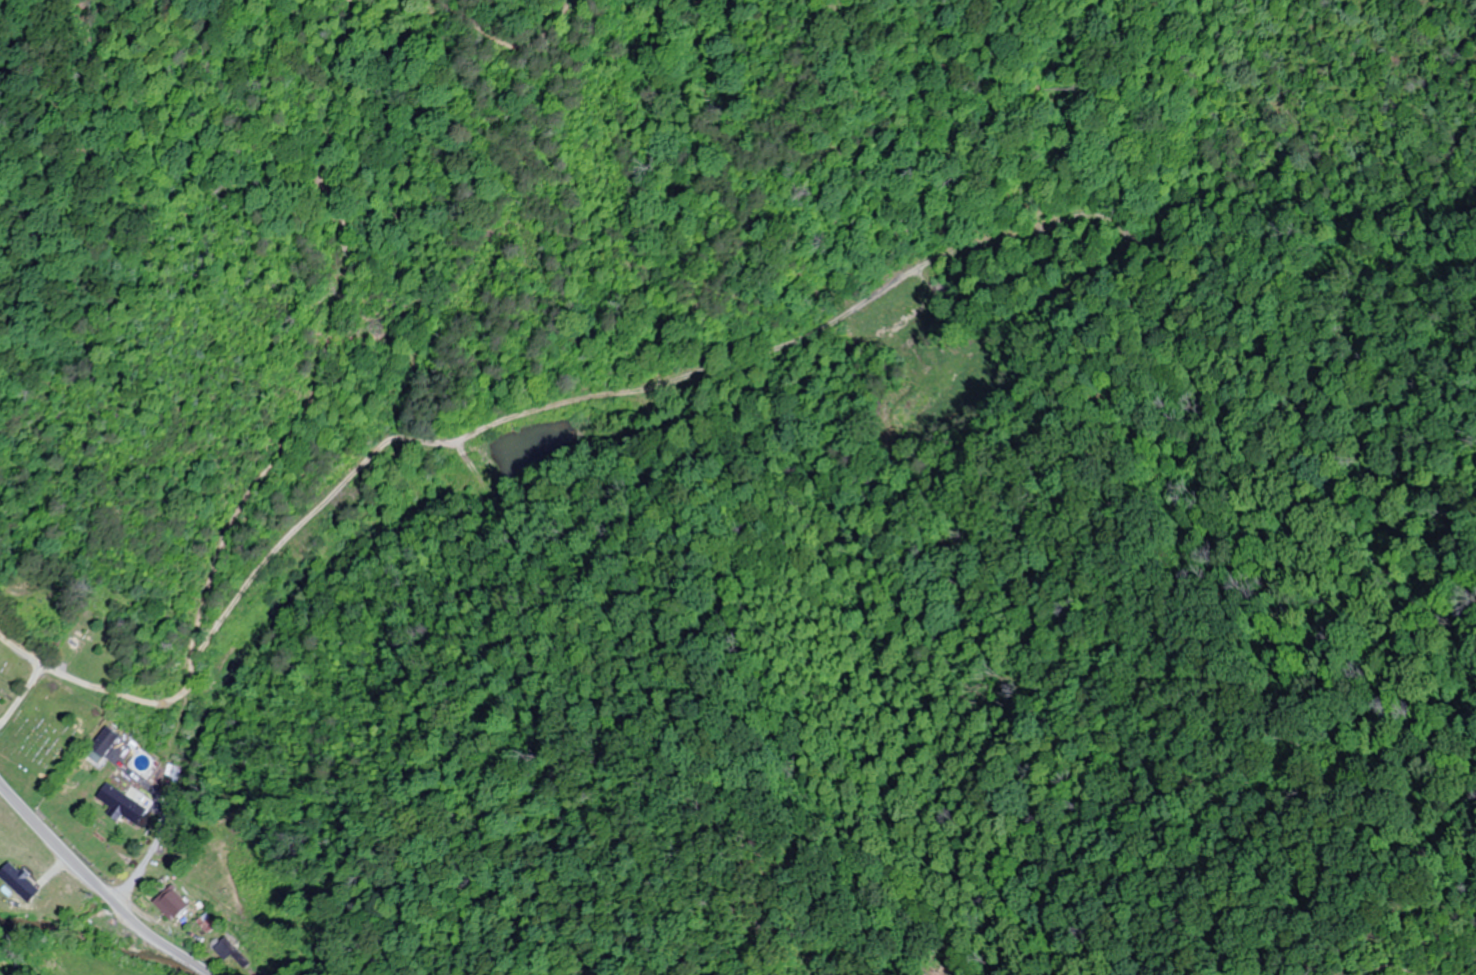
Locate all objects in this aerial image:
park: (99, 629)
park: (11, 673)
park: (50, 728)
building: (105, 740)
building: (125, 803)
building: (20, 880)
road: (100, 885)
building: (172, 903)
building: (231, 946)

